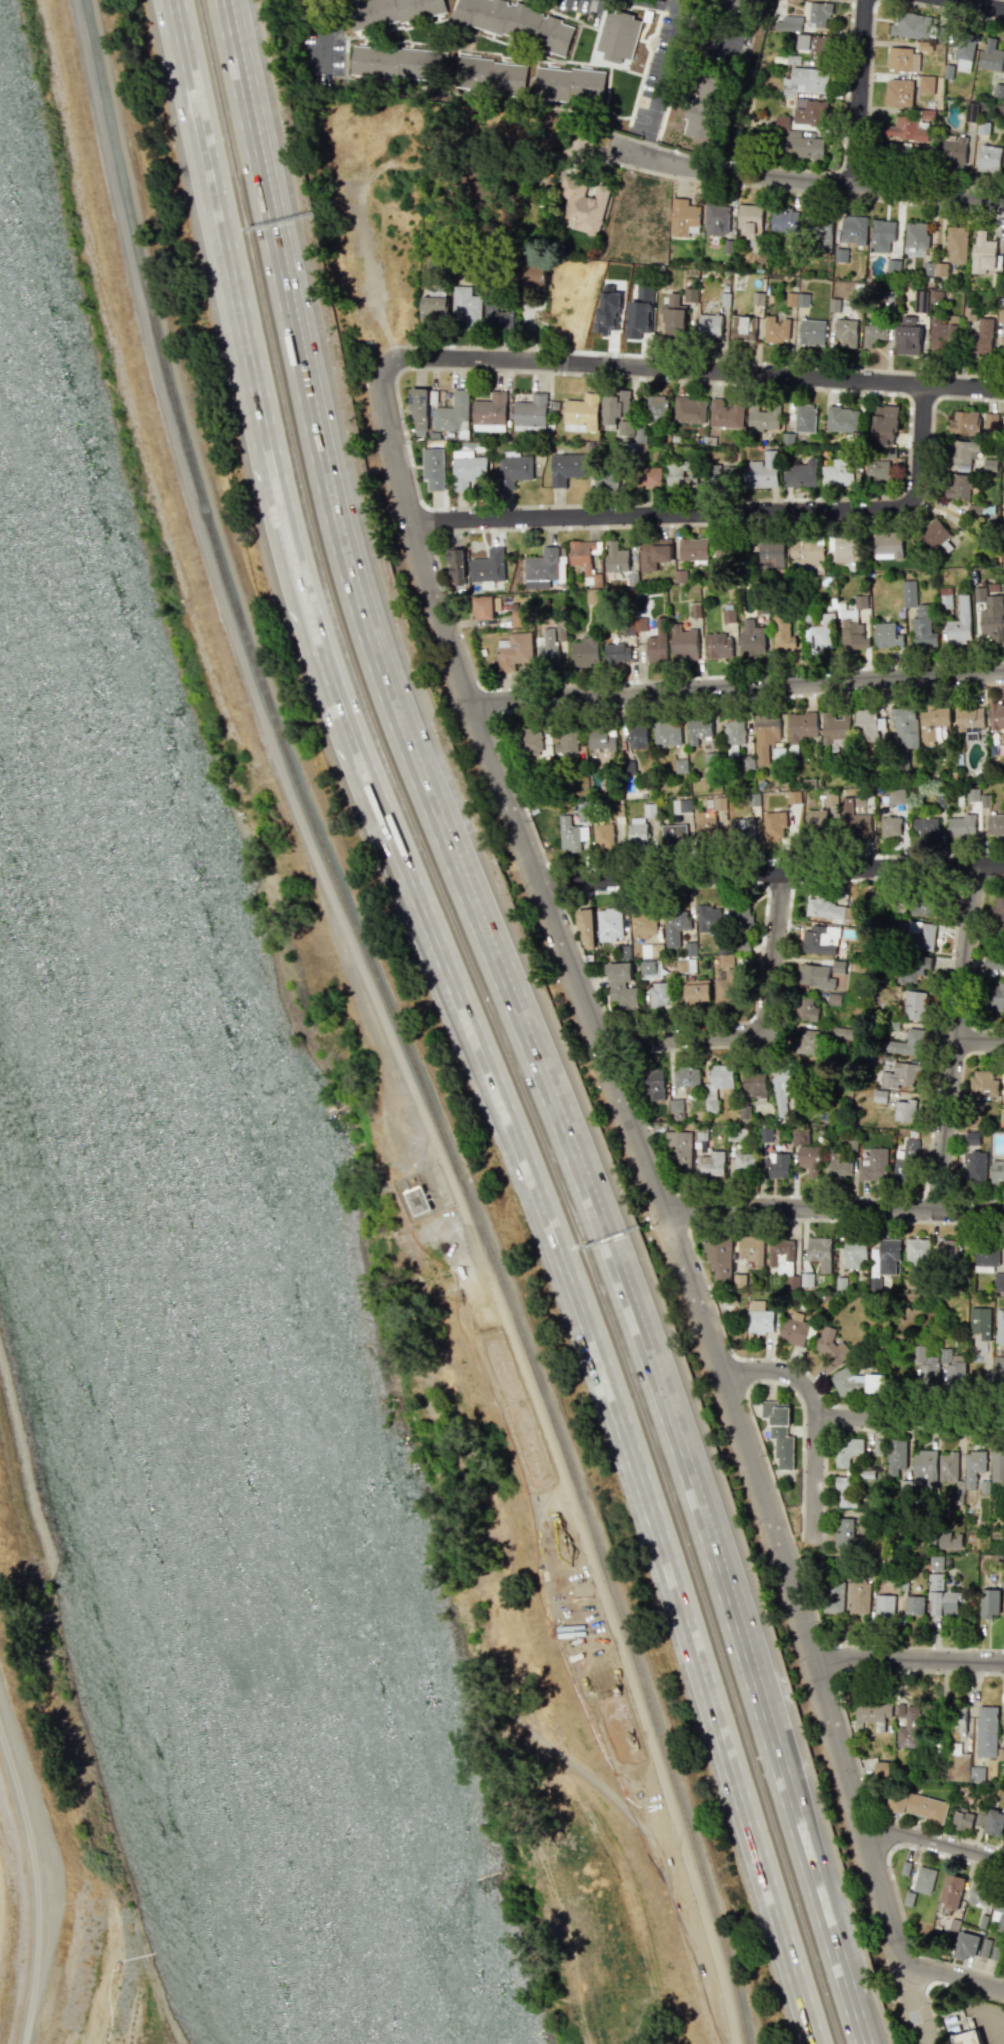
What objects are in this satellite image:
road: (656, 4)
road: (977, 5)
building: (391, 11)
building: (819, 15)
building: (515, 23)
building: (912, 25)
road: (318, 33)
building: (617, 36)
building: (811, 43)
building: (963, 51)
building: (990, 55)
building: (903, 59)
building: (397, 62)
road: (663, 68)
building: (490, 75)
building: (805, 81)
building: (568, 84)
building: (925, 84)
building: (898, 92)
road: (861, 94)
building: (810, 113)
building: (698, 121)
building: (904, 129)
building: (798, 141)
road: (642, 147)
building: (953, 152)
building: (988, 158)
road: (801, 183)
building: (582, 205)
building: (682, 216)
building: (716, 219)
building: (748, 219)
building: (783, 220)
building: (853, 229)
building: (819, 231)
building: (881, 235)
building: (915, 238)
building: (956, 244)
building: (982, 252)
building: (839, 255)
building: (892, 266)
building: (939, 269)
building: (533, 276)
building: (936, 296)
building: (797, 299)
building: (919, 301)
building: (833, 305)
building: (466, 306)
building: (434, 309)
building: (607, 311)
building: (499, 312)
building: (676, 313)
building: (1000, 315)
building: (638, 318)
building: (709, 325)
building: (743, 328)
building: (775, 329)
building: (811, 332)
building: (846, 332)
building: (873, 334)
building: (907, 337)
building: (980, 338)
building: (1002, 345)
road: (696, 374)
road: (252, 401)
building: (656, 409)
building: (418, 410)
building: (689, 410)
building: (489, 413)
building: (529, 413)
building: (581, 413)
building: (724, 414)
building: (763, 418)
building: (804, 418)
building: (842, 419)
building: (990, 421)
building: (964, 422)
building: (1002, 423)
building: (885, 425)
building: (624, 428)
road: (923, 445)
building: (1003, 457)
building: (989, 465)
building: (881, 466)
building: (432, 468)
building: (565, 468)
building: (466, 469)
building: (512, 470)
building: (761, 472)
building: (800, 473)
building: (837, 473)
building: (679, 475)
building: (720, 477)
building: (643, 478)
building: (605, 481)
building: (957, 486)
road: (661, 514)
building: (936, 536)
building: (887, 545)
building: (693, 549)
building: (806, 549)
building: (846, 549)
building: (653, 553)
building: (770, 553)
building: (615, 557)
building: (583, 560)
building: (455, 562)
building: (487, 566)
building: (544, 568)
building: (908, 593)
building: (945, 598)
building: (859, 602)
building: (483, 608)
building: (990, 614)
building: (727, 615)
building: (959, 622)
building: (922, 628)
building: (851, 631)
building: (820, 634)
building: (886, 636)
building: (782, 637)
building: (751, 639)
building: (656, 642)
building: (683, 643)
building: (717, 646)
building: (546, 648)
building: (513, 651)
building: (584, 652)
building: (615, 653)
road: (734, 687)
building: (996, 715)
building: (969, 718)
building: (867, 721)
building: (904, 724)
building: (935, 724)
building: (800, 725)
building: (835, 729)
building: (699, 730)
building: (733, 732)
building: (665, 733)
building: (637, 735)
building: (765, 735)
building: (599, 738)
building: (531, 739)
building: (566, 741)
building: (680, 766)
road: (508, 767)
building: (972, 794)
building: (793, 797)
building: (719, 803)
building: (681, 805)
building: (648, 810)
building: (816, 817)
building: (855, 821)
building: (704, 823)
building: (773, 824)
building: (995, 824)
building: (891, 825)
building: (962, 825)
building: (741, 827)
building: (925, 827)
building: (638, 830)
building: (571, 834)
building: (673, 834)
building: (603, 836)
road: (771, 874)
building: (924, 905)
building: (996, 907)
building: (825, 908)
building: (740, 916)
building: (707, 919)
building: (642, 922)
building: (609, 924)
building: (674, 926)
building: (585, 928)
building: (920, 935)
building: (819, 939)
road: (776, 953)
road: (973, 958)
building: (992, 962)
road: (499, 963)
building: (684, 965)
building: (838, 967)
building: (911, 968)
building: (650, 969)
building: (814, 976)
building: (725, 981)
building: (621, 985)
building: (696, 990)
building: (659, 995)
building: (993, 996)
building: (833, 999)
building: (913, 1005)
building: (805, 1009)
railway: (397, 1026)
road: (385, 1027)
road: (683, 1036)
building: (806, 1038)
road: (956, 1039)
road: (967, 1040)
road: (980, 1042)
building: (907, 1043)
building: (898, 1075)
building: (685, 1077)
building: (653, 1083)
building: (716, 1084)
building: (753, 1084)
building: (982, 1084)
building: (879, 1094)
building: (781, 1095)
building: (1003, 1103)
building: (675, 1105)
building: (904, 1110)
building: (1001, 1114)
road: (952, 1133)
building: (765, 1134)
building: (799, 1136)
building: (971, 1138)
building: (680, 1157)
road: (645, 1159)
building: (807, 1159)
building: (709, 1160)
building: (905, 1161)
building: (744, 1162)
building: (775, 1165)
building: (873, 1165)
building: (836, 1166)
building: (974, 1166)
building: (997, 1170)
building: (417, 1200)
road: (832, 1207)
building: (751, 1249)
building: (916, 1249)
building: (947, 1249)
building: (819, 1252)
building: (853, 1254)
building: (984, 1258)
building: (883, 1259)
building: (805, 1279)
building: (998, 1281)
building: (759, 1318)
building: (980, 1322)
building: (999, 1326)
river: (191, 1327)
building: (829, 1349)
building: (952, 1366)
building: (927, 1367)
building: (998, 1368)
road: (780, 1372)
building: (858, 1383)
road: (616, 1409)
road: (909, 1418)
road: (855, 1428)
building: (779, 1432)
building: (847, 1450)
building: (895, 1456)
building: (997, 1466)
building: (923, 1468)
building: (976, 1470)
building: (949, 1471)
road: (813, 1483)
building: (841, 1490)
building: (842, 1533)
building: (949, 1540)
road: (907, 1552)
building: (935, 1563)
building: (831, 1597)
building: (858, 1597)
building: (941, 1597)
building: (990, 1602)
building: (913, 1605)
building: (883, 1607)
building: (1003, 1623)
road: (909, 1658)
street lamp: (799, 1660)
building: (872, 1712)
building: (958, 1718)
building: (907, 1726)
building: (1003, 1730)
building: (986, 1731)
building: (957, 1767)
building: (881, 1768)
building: (976, 1773)
building: (916, 1805)
building: (963, 1819)
building: (994, 1823)
road: (934, 1841)
building: (924, 1879)
road: (37, 1890)
building: (951, 1891)
building: (979, 1891)
building: (998, 1914)
building: (965, 1945)
building: (984, 1947)
road: (952, 1975)
road: (844, 1979)
road: (912, 2002)
building: (964, 2038)

